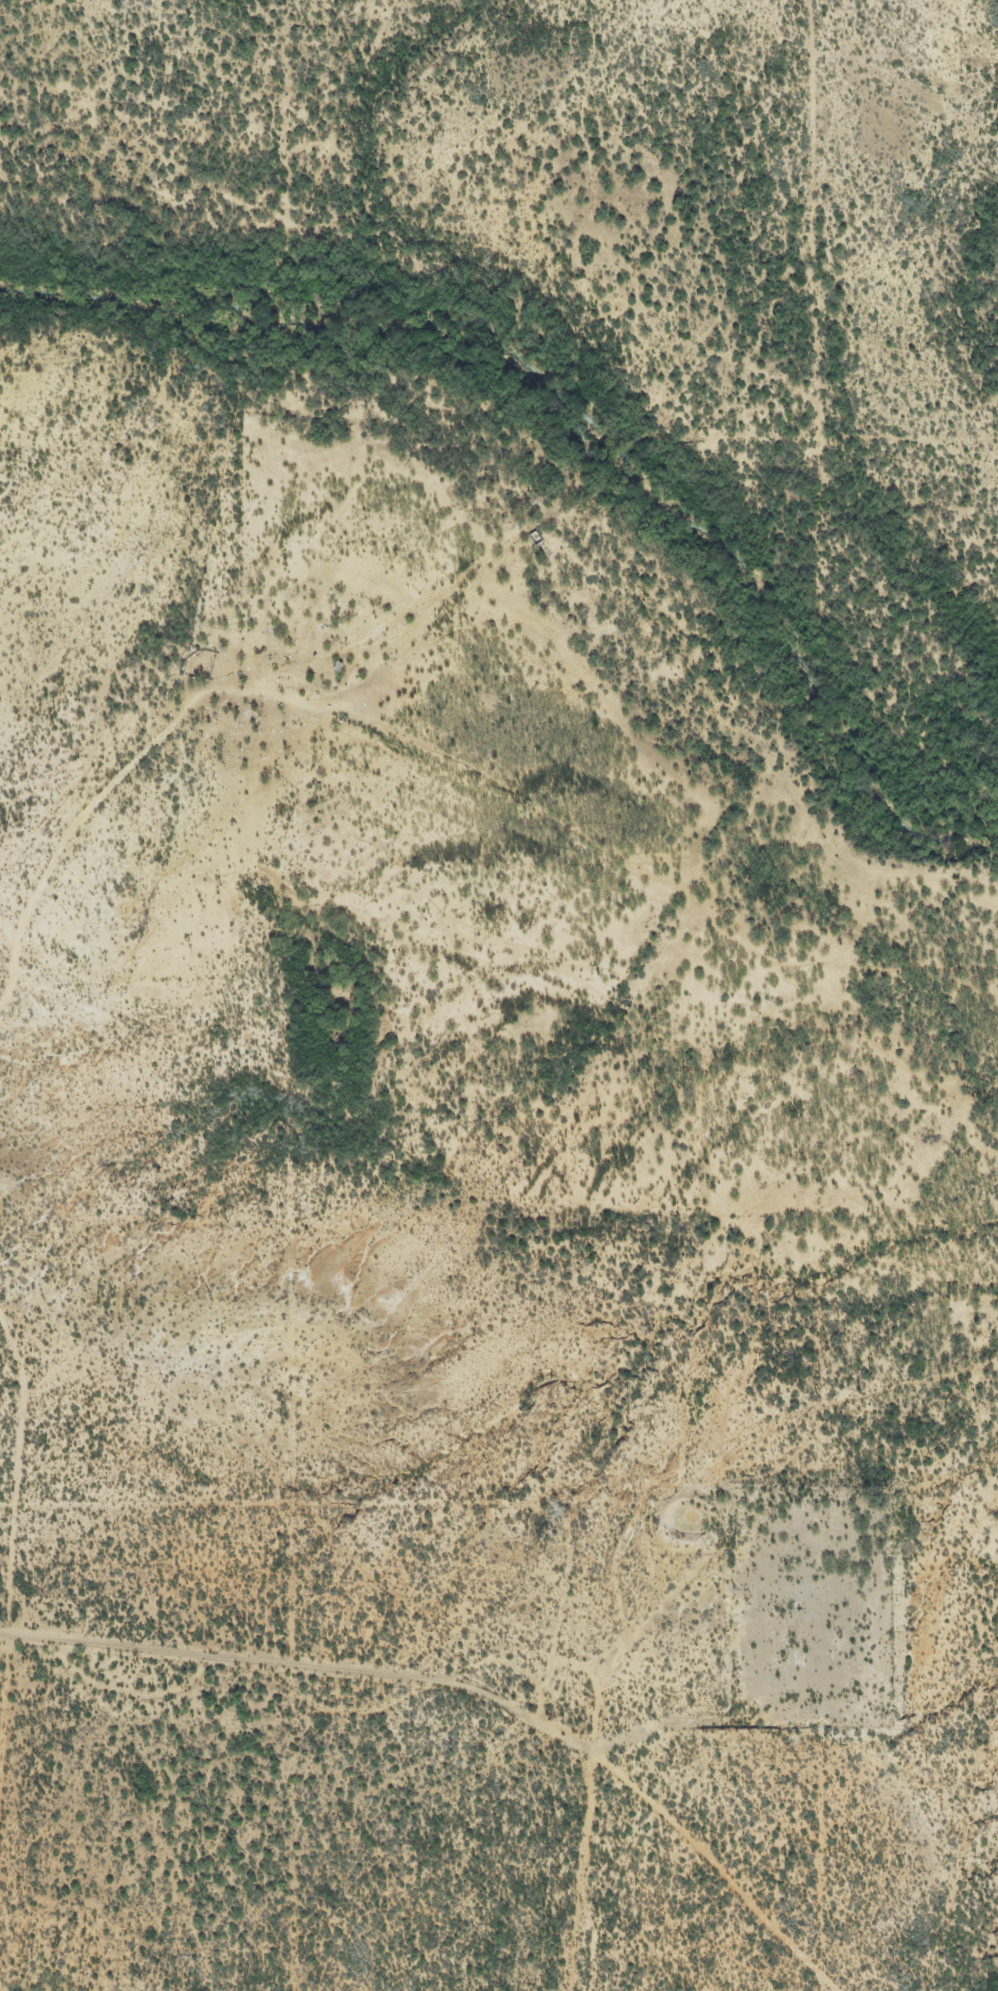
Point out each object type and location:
road: (468, 1693)

